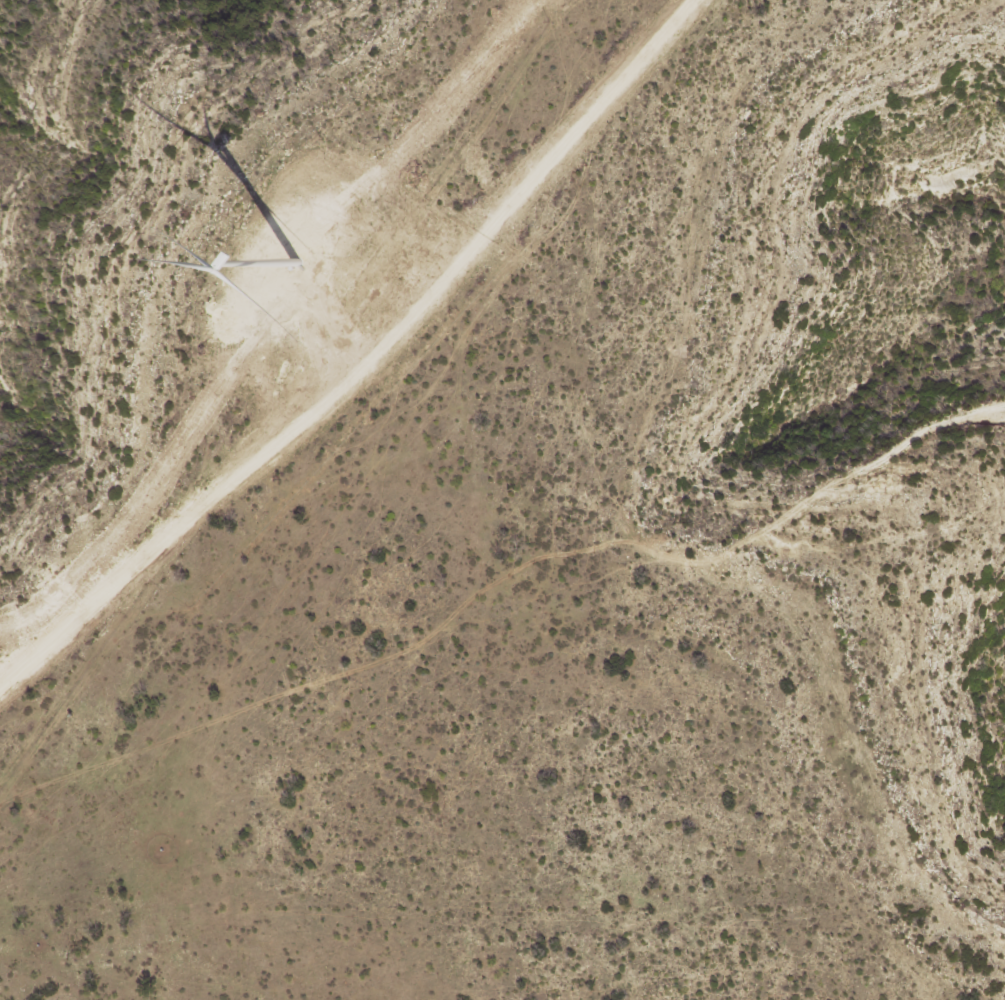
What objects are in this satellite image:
wind turbine: (284, 255)

